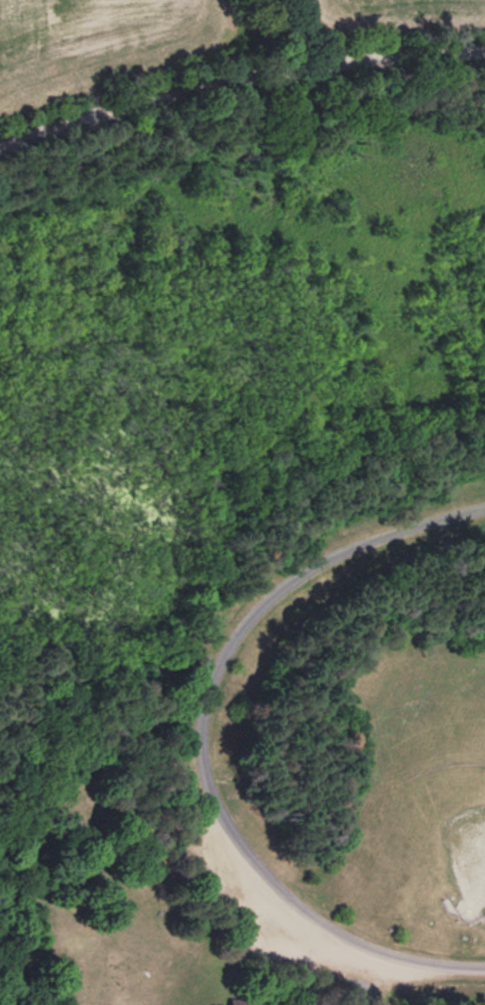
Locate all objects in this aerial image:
road: (240, 77)
park: (246, 552)
road: (199, 741)
park: (465, 846)
building: (243, 1004)

